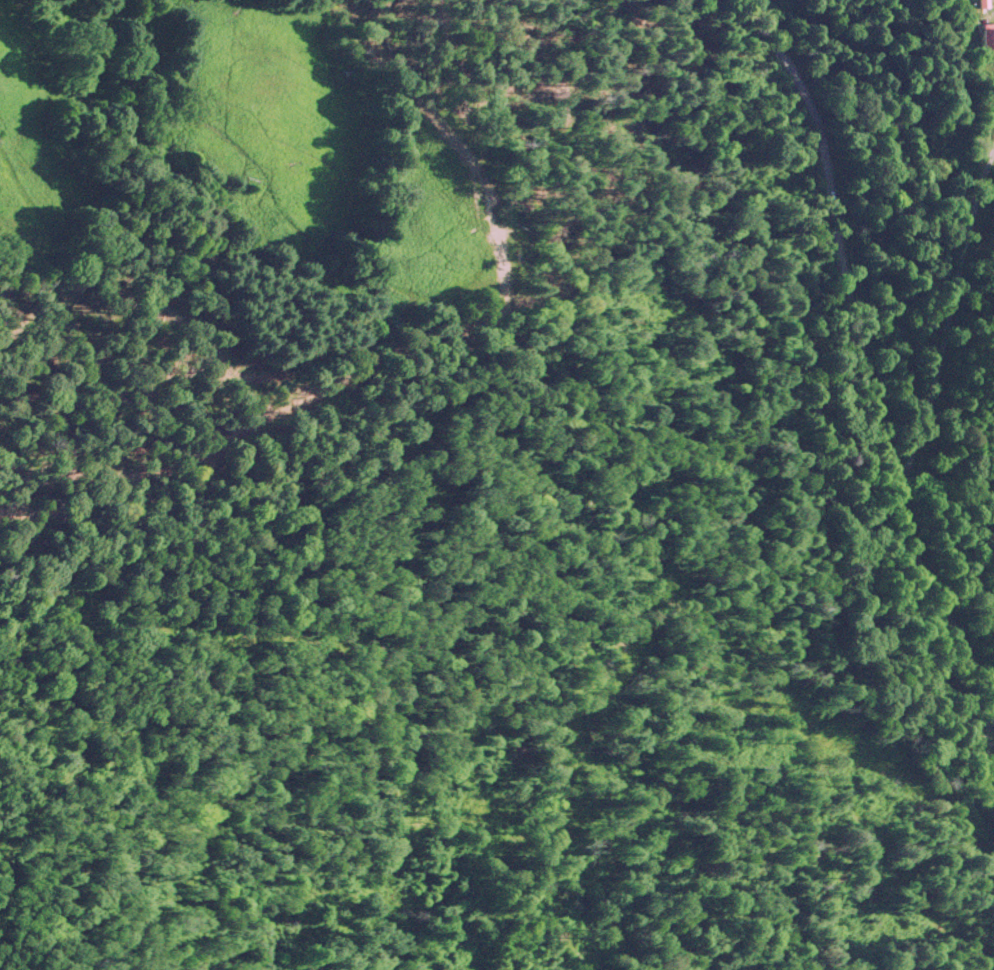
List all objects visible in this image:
building: (986, 35)
road: (855, 314)

